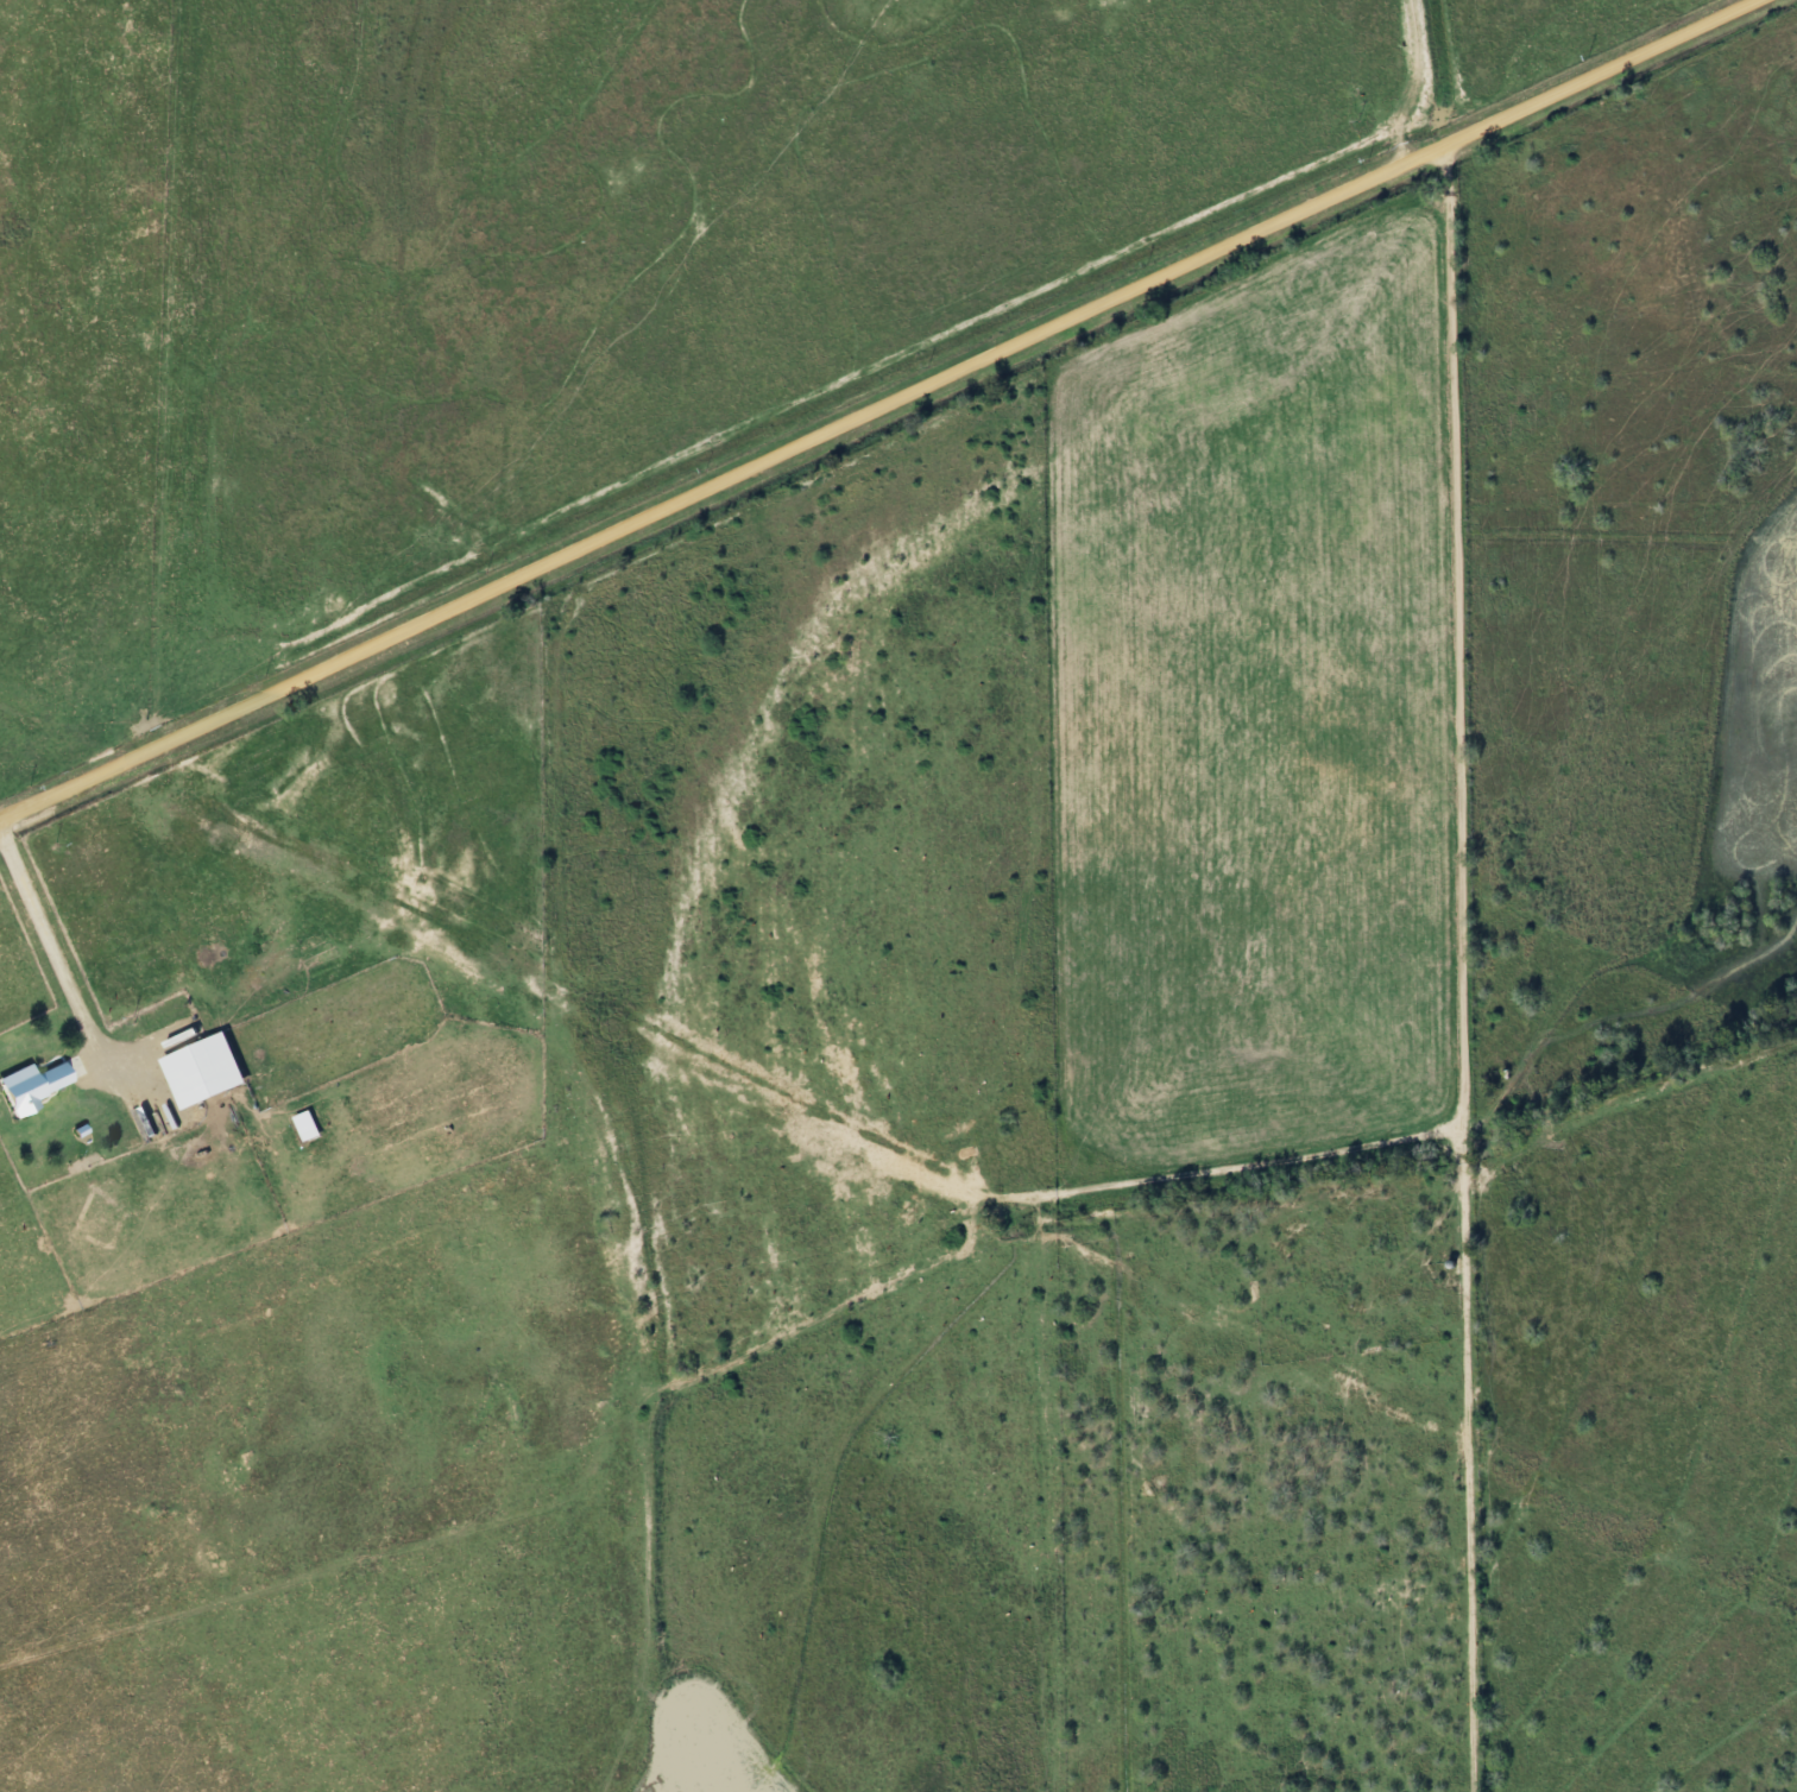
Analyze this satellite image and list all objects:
road: (869, 408)
road: (46, 953)
road: (1455, 964)

